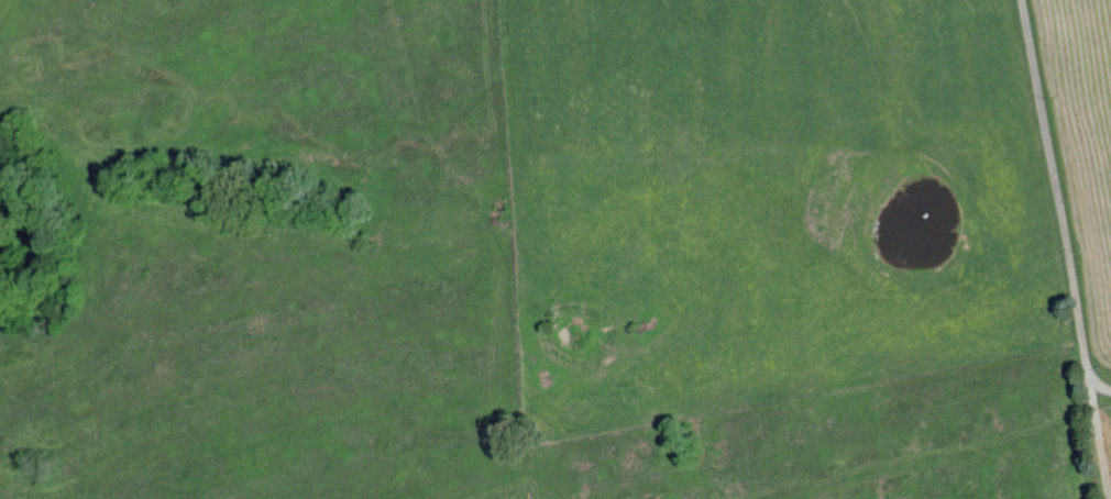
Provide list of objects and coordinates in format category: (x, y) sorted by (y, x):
road: (1065, 248)

